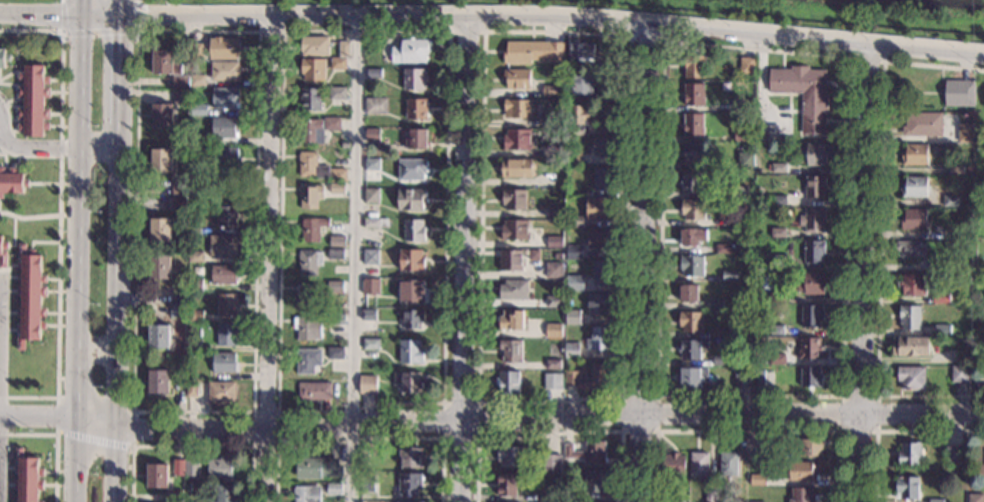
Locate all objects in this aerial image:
park: (32, 1)
road: (137, 1)
road: (62, 2)
road: (77, 8)
road: (123, 10)
park: (690, 14)
road: (38, 16)
road: (100, 18)
road: (554, 20)
road: (100, 31)
road: (270, 31)
road: (465, 32)
road: (645, 40)
building: (314, 46)
building: (224, 48)
building: (344, 49)
building: (411, 51)
building: (197, 52)
building: (532, 53)
building: (582, 53)
building: (2, 59)
road: (865, 60)
building: (165, 62)
building: (339, 64)
building: (747, 65)
building: (694, 66)
building: (313, 70)
road: (121, 71)
building: (226, 71)
building: (374, 73)
building: (414, 79)
building: (517, 79)
building: (198, 80)
building: (181, 82)
road: (763, 84)
building: (582, 85)
building: (551, 91)
building: (337, 93)
building: (959, 93)
building: (804, 94)
building: (693, 95)
building: (182, 96)
building: (226, 98)
building: (311, 99)
building: (33, 102)
building: (742, 105)
building: (376, 106)
building: (517, 108)
building: (417, 109)
building: (199, 110)
road: (8, 116)
building: (162, 116)
building: (552, 120)
building: (577, 120)
road: (1, 124)
building: (332, 124)
building: (693, 124)
building: (922, 124)
building: (225, 128)
building: (310, 131)
building: (966, 134)
building: (373, 135)
building: (742, 135)
building: (414, 138)
road: (0, 139)
building: (199, 139)
building: (517, 139)
building: (344, 145)
building: (605, 145)
road: (59, 148)
building: (553, 151)
building: (694, 152)
building: (915, 154)
building: (817, 155)
road: (28, 156)
building: (225, 157)
building: (575, 159)
building: (160, 160)
building: (745, 160)
building: (372, 164)
building: (198, 166)
building: (311, 166)
building: (516, 168)
building: (779, 168)
building: (969, 169)
building: (412, 170)
building: (956, 170)
building: (338, 175)
building: (558, 179)
building: (603, 179)
building: (10, 182)
building: (690, 182)
building: (229, 186)
building: (815, 186)
building: (179, 187)
building: (914, 187)
building: (337, 189)
building: (739, 191)
building: (371, 195)
building: (310, 196)
building: (411, 200)
building: (514, 200)
building: (764, 200)
building: (951, 200)
building: (778, 201)
building: (179, 204)
building: (598, 209)
building: (692, 209)
road: (59, 211)
building: (556, 212)
building: (227, 216)
road: (28, 217)
building: (813, 219)
building: (914, 219)
building: (739, 220)
building: (575, 221)
building: (375, 223)
road: (270, 225)
building: (312, 228)
building: (160, 230)
building: (414, 231)
building: (515, 231)
building: (778, 232)
road: (879, 232)
building: (950, 234)
building: (692, 236)
building: (602, 238)
building: (337, 241)
building: (555, 242)
building: (951, 244)
building: (223, 246)
building: (722, 249)
building: (910, 249)
building: (813, 252)
building: (573, 253)
building: (2, 254)
building: (335, 254)
building: (196, 257)
building: (370, 257)
building: (558, 257)
road: (77, 259)
road: (355, 260)
building: (411, 260)
road: (461, 260)
building: (510, 260)
building: (309, 261)
building: (772, 261)
road: (641, 264)
building: (938, 265)
building: (691, 266)
road: (8, 267)
building: (159, 267)
building: (554, 270)
building: (602, 273)
building: (224, 274)
building: (730, 275)
road: (860, 275)
building: (813, 283)
building: (573, 284)
building: (195, 285)
building: (911, 286)
building: (370, 287)
building: (513, 290)
building: (412, 291)
building: (315, 292)
building: (688, 294)
building: (777, 296)
building: (29, 297)
building: (940, 299)
building: (554, 302)
building: (226, 304)
building: (597, 304)
building: (715, 304)
building: (177, 310)
road: (117, 312)
building: (195, 315)
building: (368, 315)
building: (811, 316)
building: (572, 317)
building: (909, 317)
building: (336, 319)
building: (413, 319)
building: (511, 321)
building: (690, 322)
building: (306, 329)
building: (775, 329)
building: (554, 331)
building: (942, 331)
building: (719, 333)
building: (227, 334)
building: (158, 337)
building: (599, 339)
building: (371, 344)
road: (97, 345)
building: (809, 347)
building: (909, 347)
building: (691, 349)
building: (572, 350)
building: (510, 351)
building: (411, 352)
building: (334, 353)
building: (307, 359)
building: (777, 359)
building: (719, 360)
building: (224, 363)
building: (553, 363)
building: (958, 374)
building: (691, 376)
building: (810, 377)
building: (588, 378)
building: (759, 378)
building: (910, 378)
building: (742, 379)
building: (157, 381)
building: (408, 381)
building: (508, 382)
building: (552, 382)
building: (367, 385)
building: (191, 389)
building: (314, 391)
building: (222, 393)
road: (615, 397)
road: (832, 397)
road: (437, 405)
road: (252, 411)
road: (56, 415)
road: (491, 420)
road: (132, 429)
road: (655, 432)
road: (747, 432)
road: (875, 432)
road: (894, 432)
road: (551, 434)
road: (476, 437)
road: (363, 439)
road: (54, 440)
road: (93, 441)
road: (192, 447)
road: (276, 447)
building: (810, 447)
building: (587, 453)
building: (909, 453)
building: (511, 455)
building: (953, 455)
building: (363, 456)
building: (410, 457)
building: (552, 462)
building: (672, 464)
building: (698, 464)
building: (728, 464)
road: (266, 467)
building: (318, 467)
building: (179, 468)
building: (192, 468)
building: (220, 468)
building: (800, 471)
building: (157, 476)
building: (27, 478)
building: (757, 479)
building: (593, 482)
building: (410, 483)
building: (367, 484)
building: (505, 485)
building: (907, 488)
building: (333, 489)
building: (224, 493)
building: (306, 493)
building: (548, 493)
building: (802, 495)
building: (174, 496)
building: (569, 497)
building: (709, 497)
building: (974, 498)
building: (729, 500)
building: (935, 500)
building: (675, 501)

